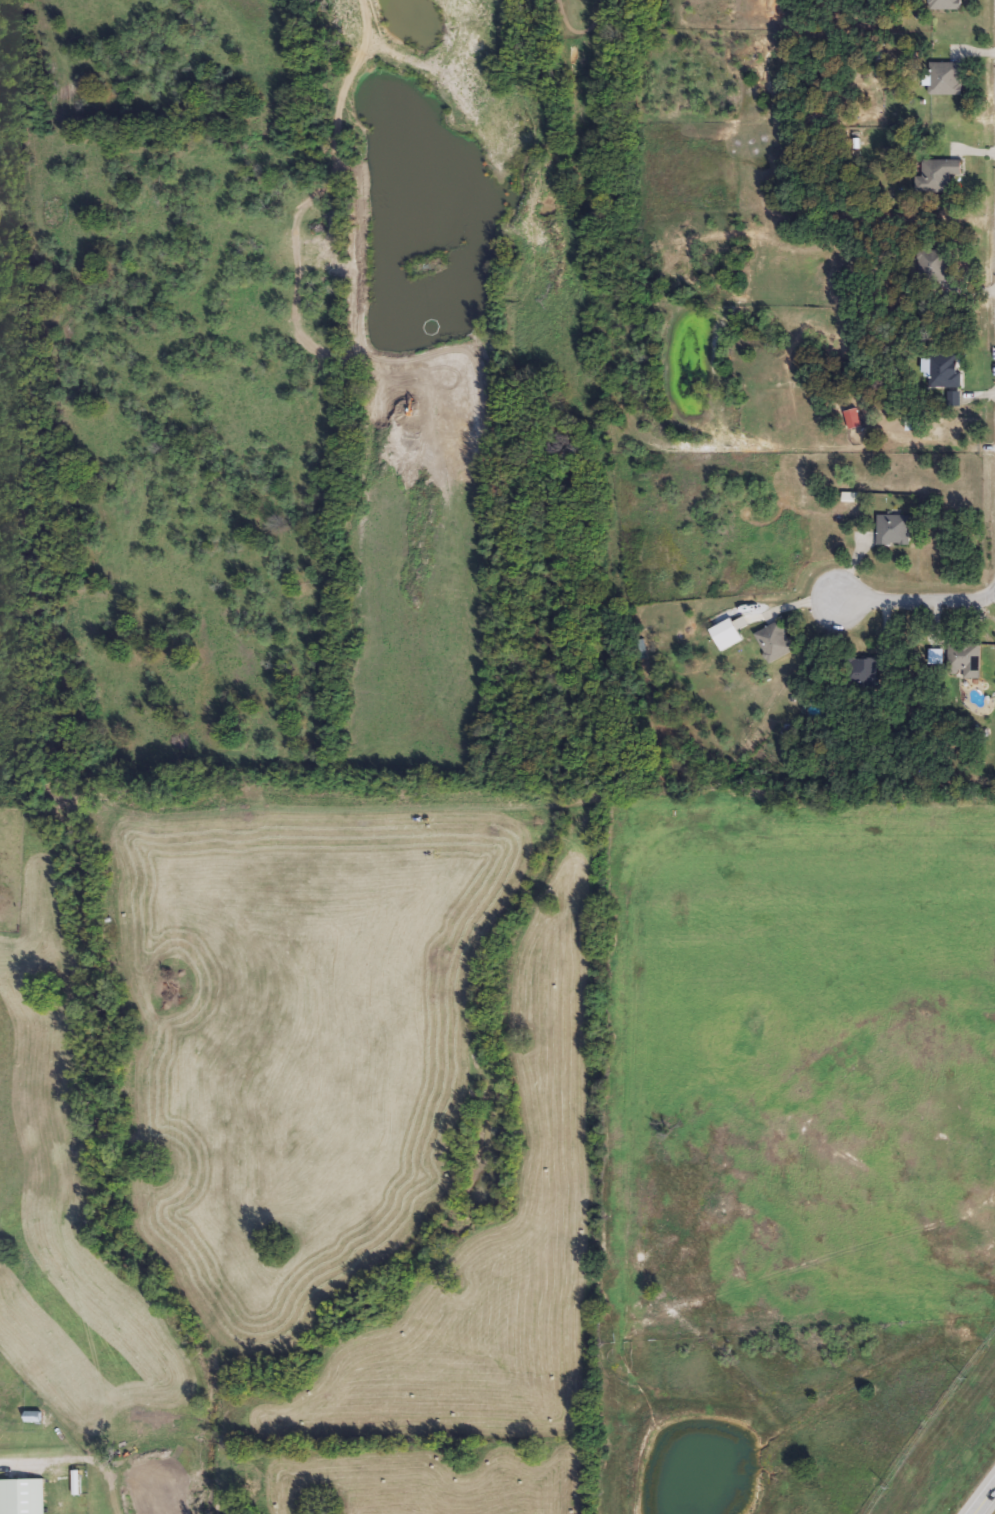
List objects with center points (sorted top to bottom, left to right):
building: (948, 5)
building: (947, 80)
building: (940, 176)
building: (937, 266)
building: (946, 372)
building: (955, 400)
building: (895, 531)
road: (994, 591)
road: (919, 599)
building: (777, 642)
building: (966, 661)
building: (861, 674)
road: (17, 1463)
building: (24, 1497)
road: (986, 1502)

